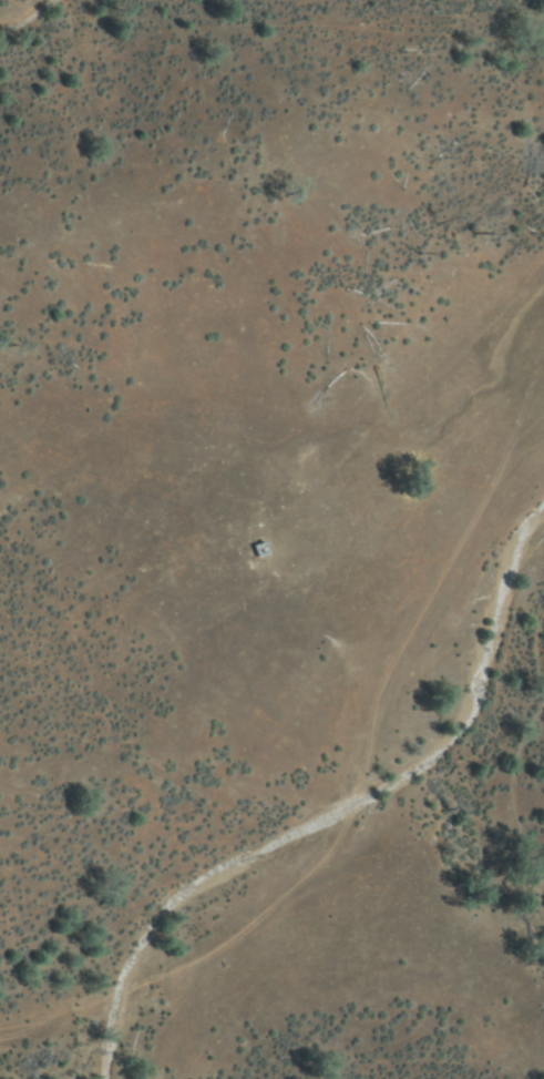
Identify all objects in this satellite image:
building: (260, 549)

